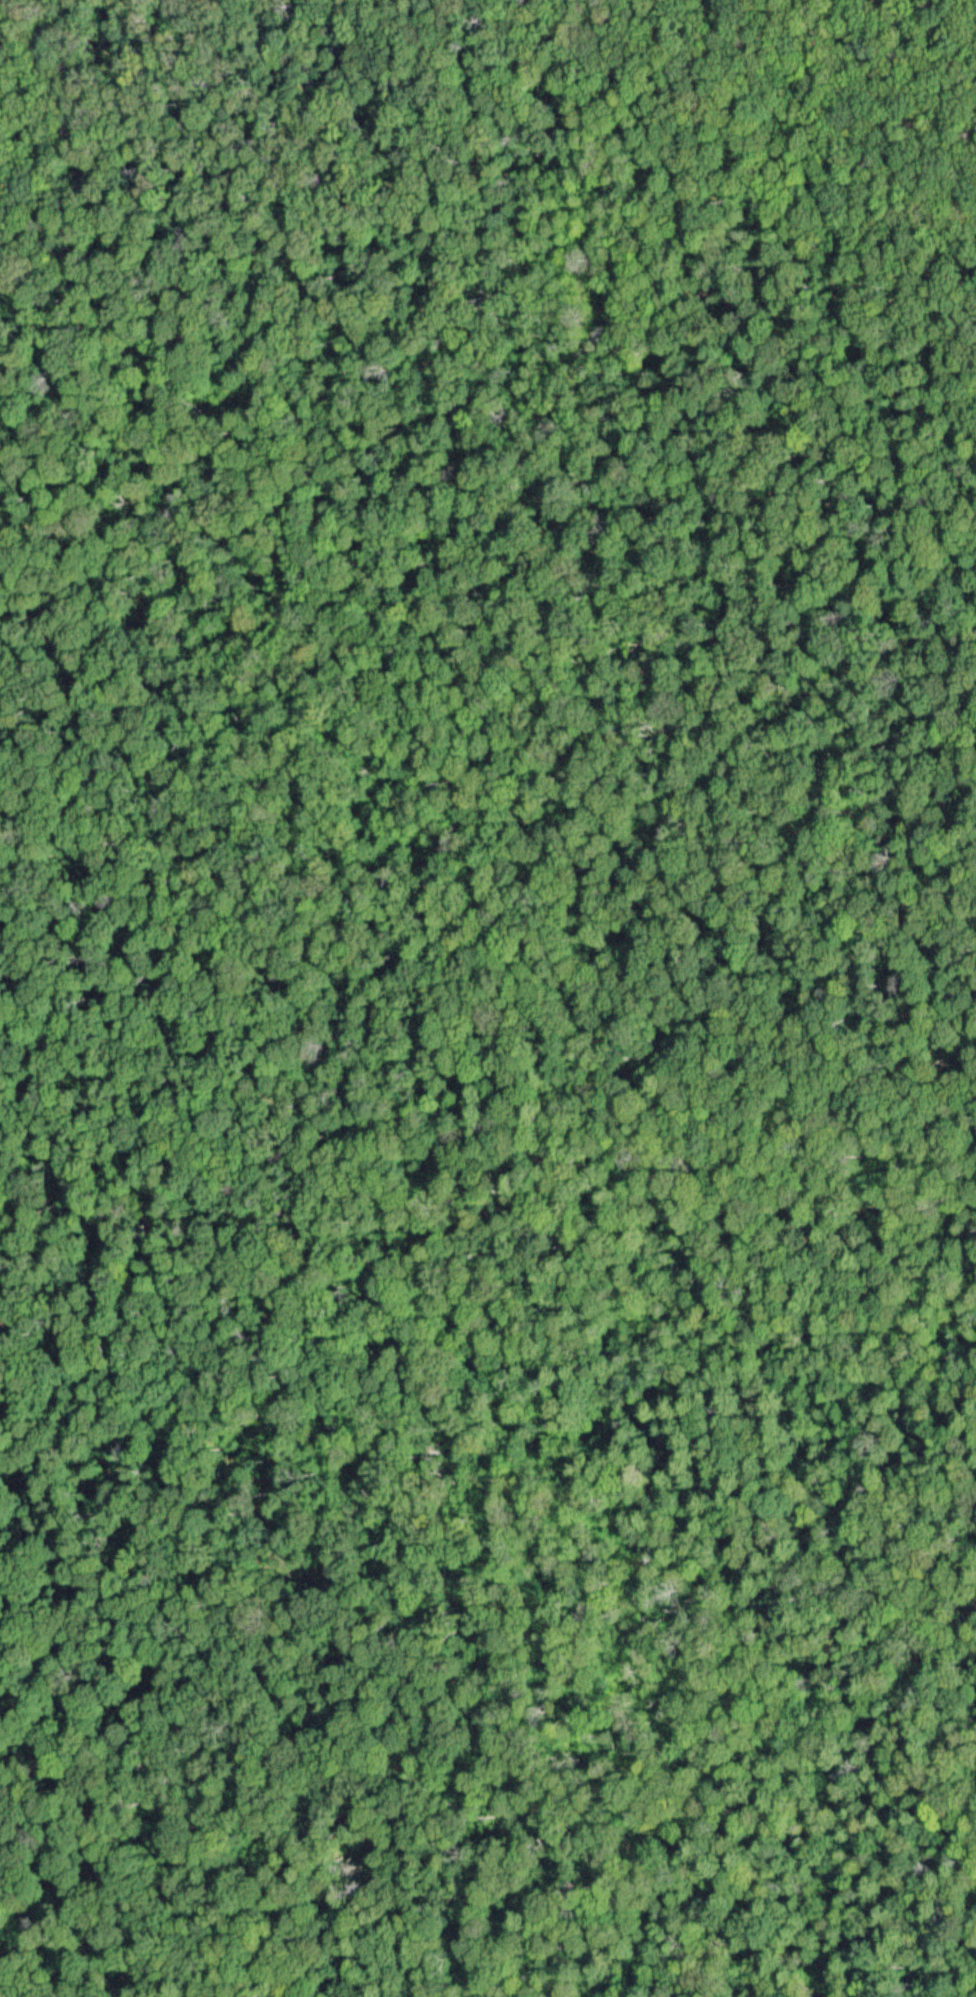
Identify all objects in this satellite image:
road: (495, 1302)

